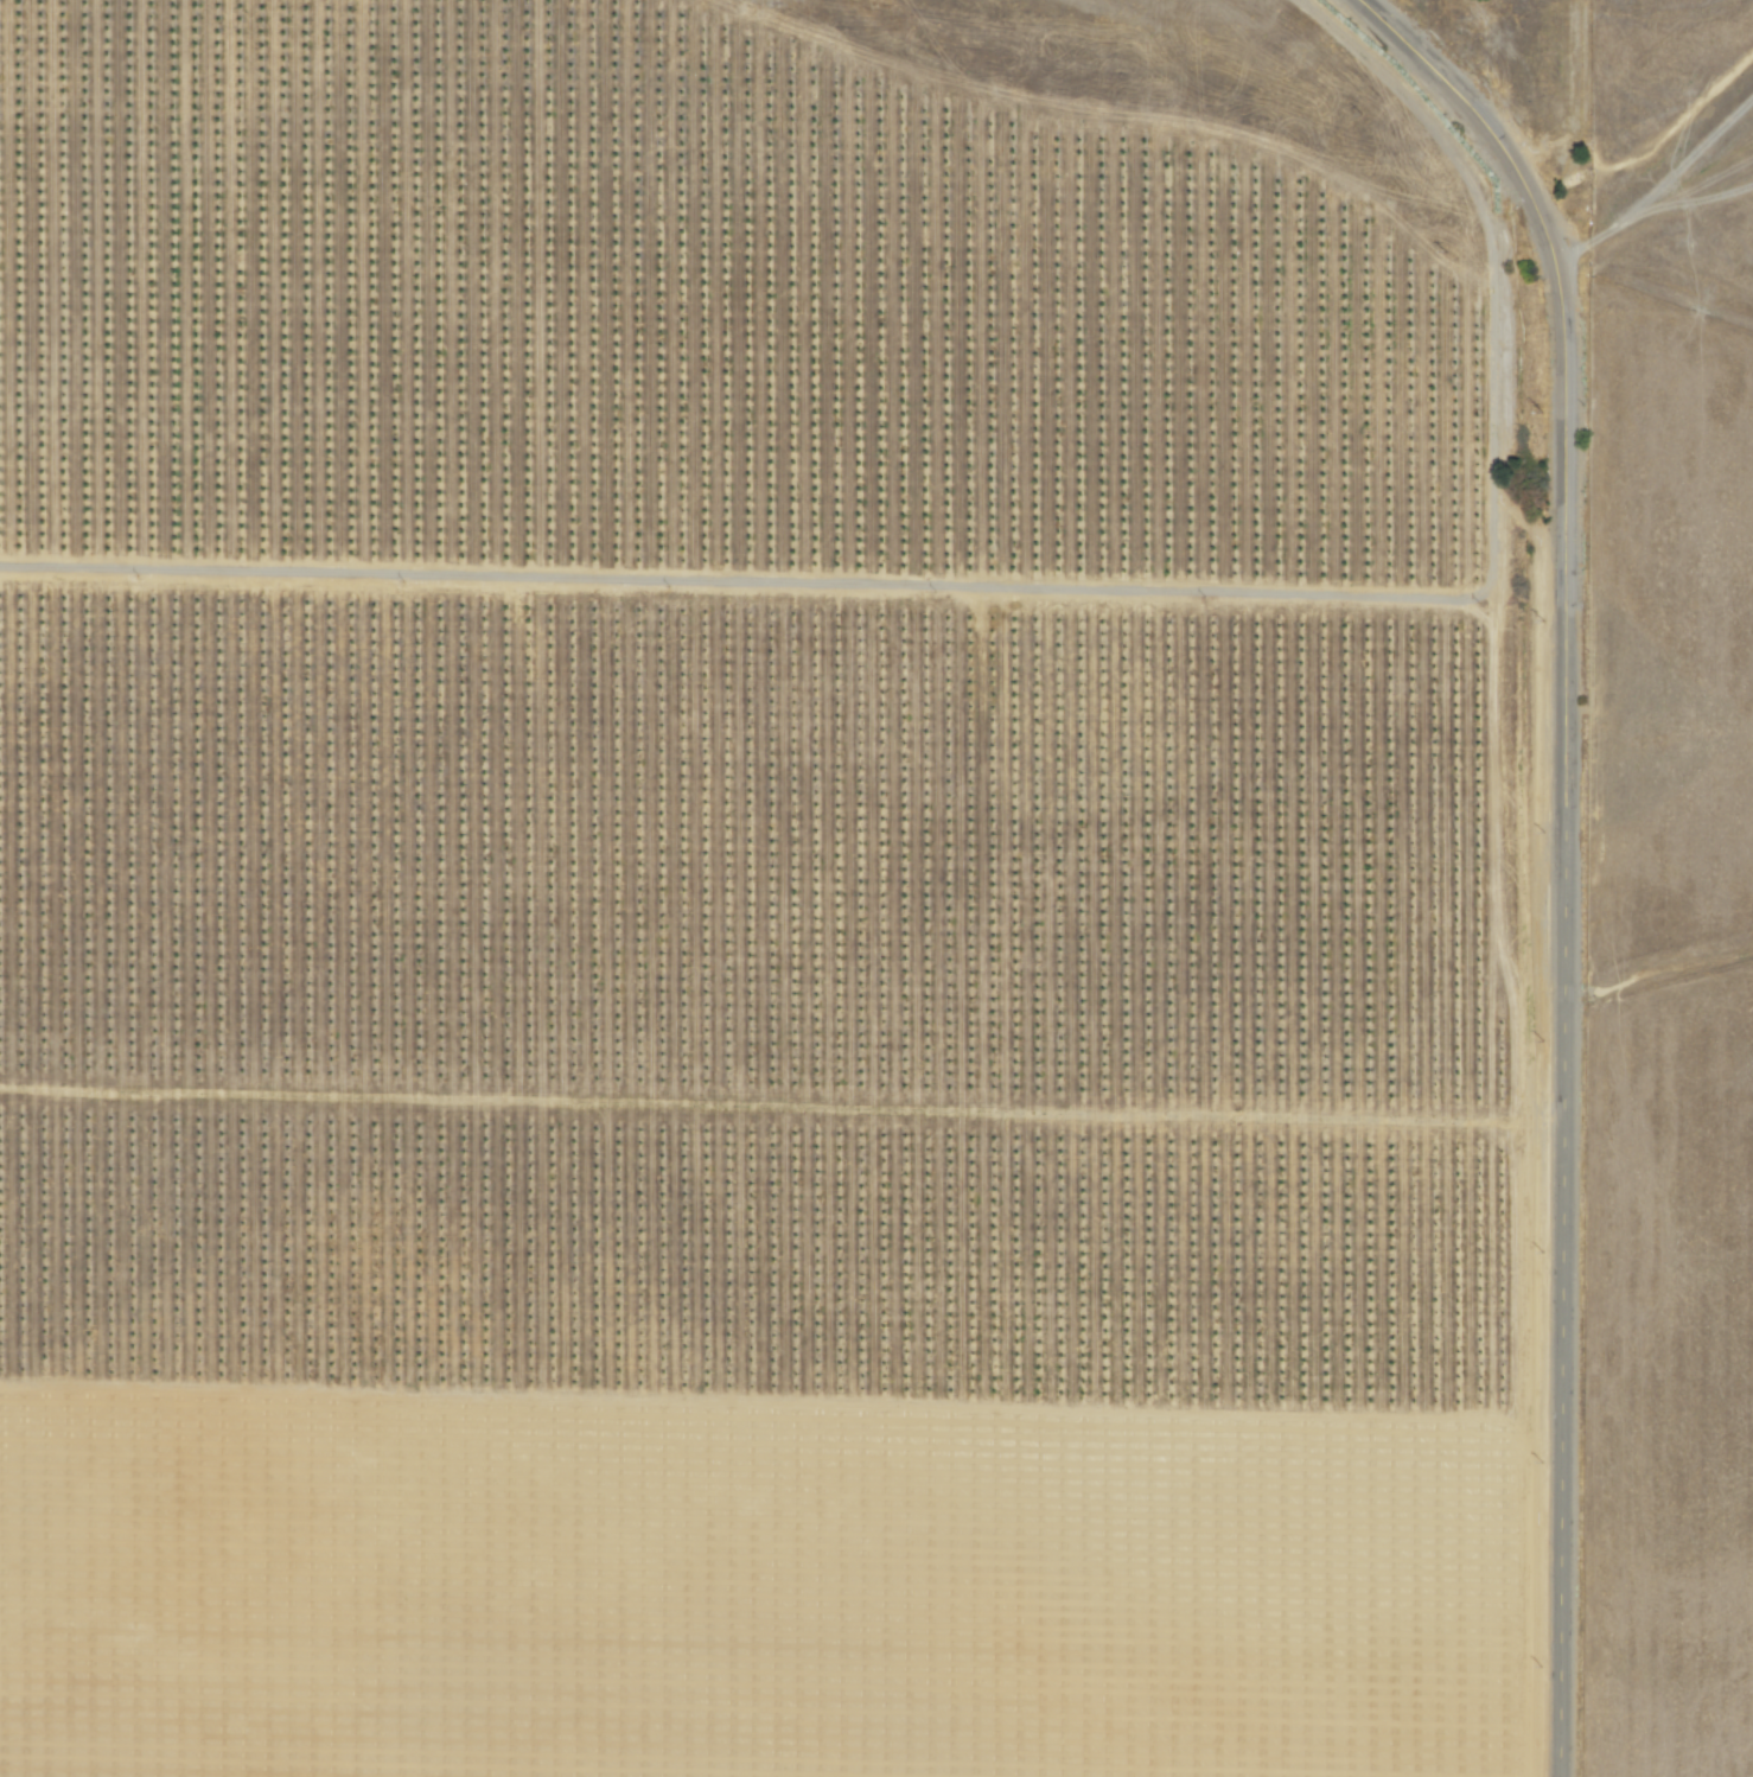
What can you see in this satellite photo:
road: (1562, 852)

